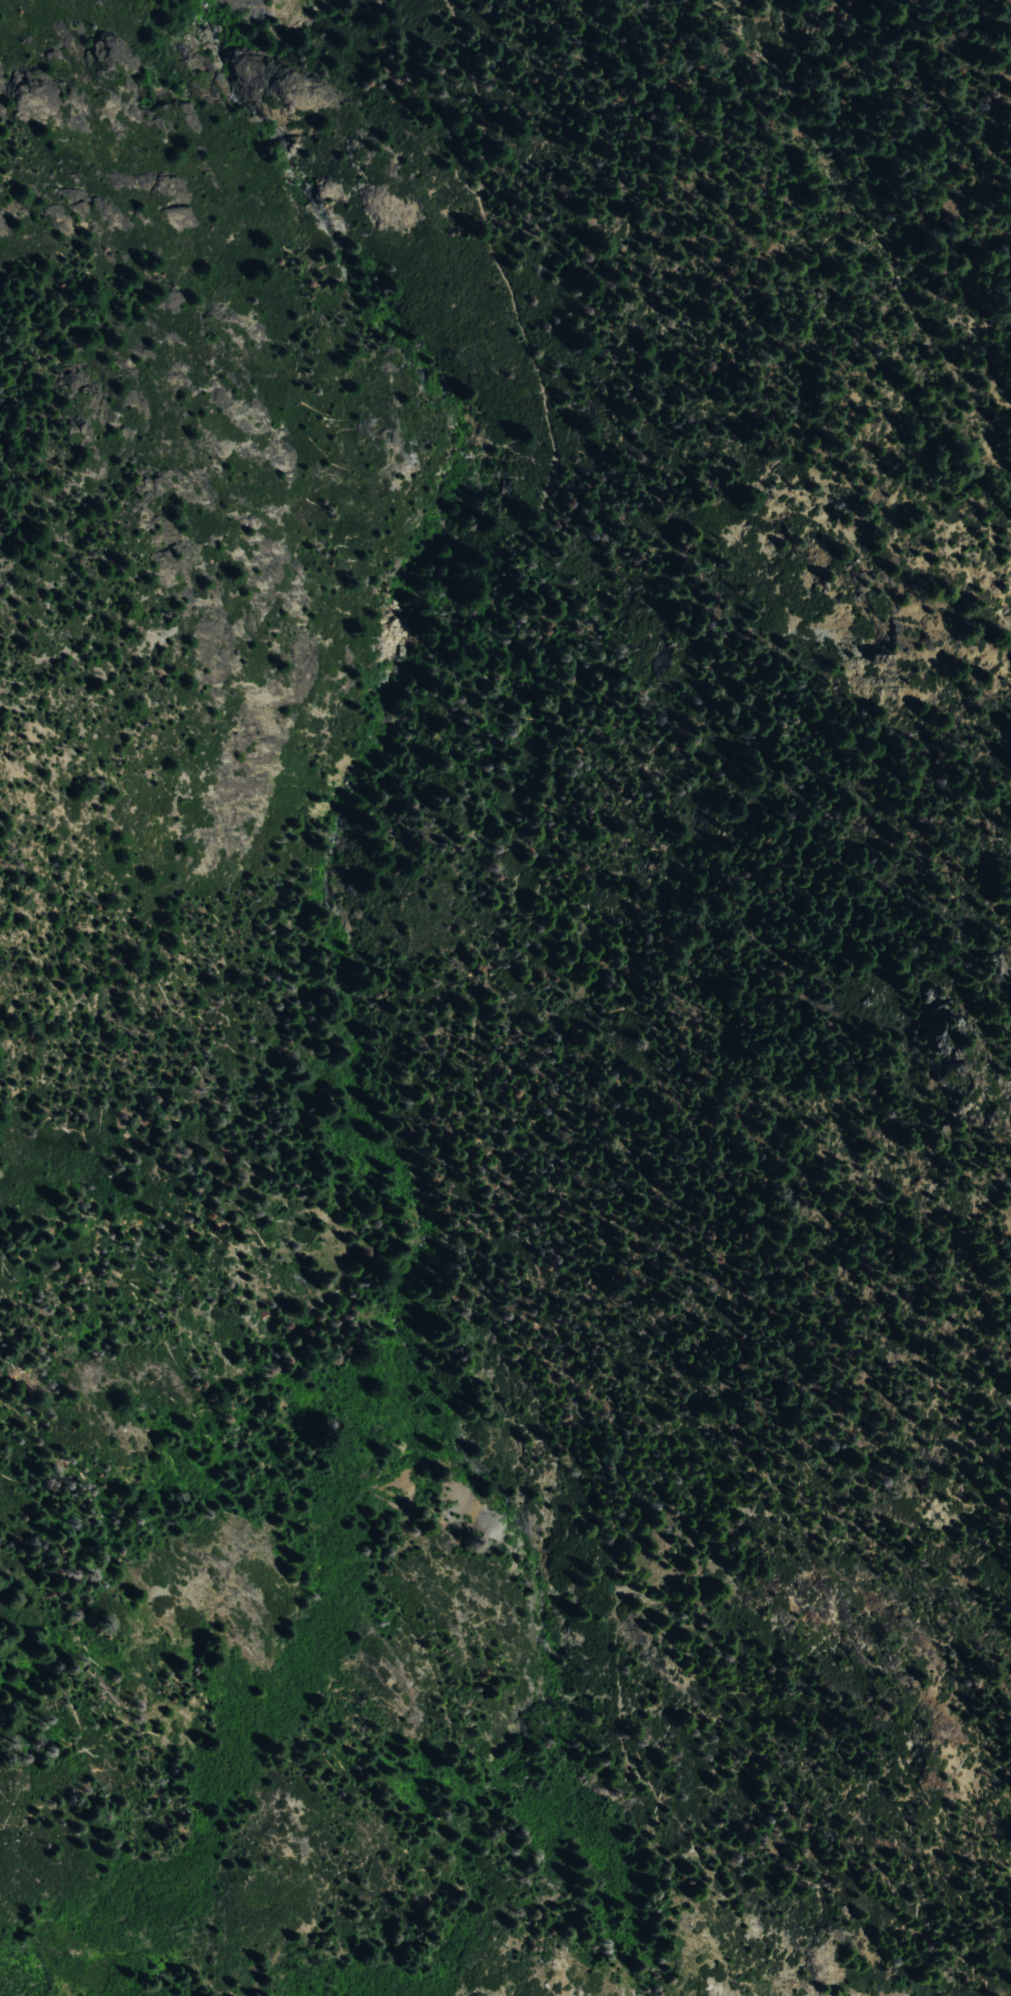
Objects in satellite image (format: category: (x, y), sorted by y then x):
road: (501, 1074)

